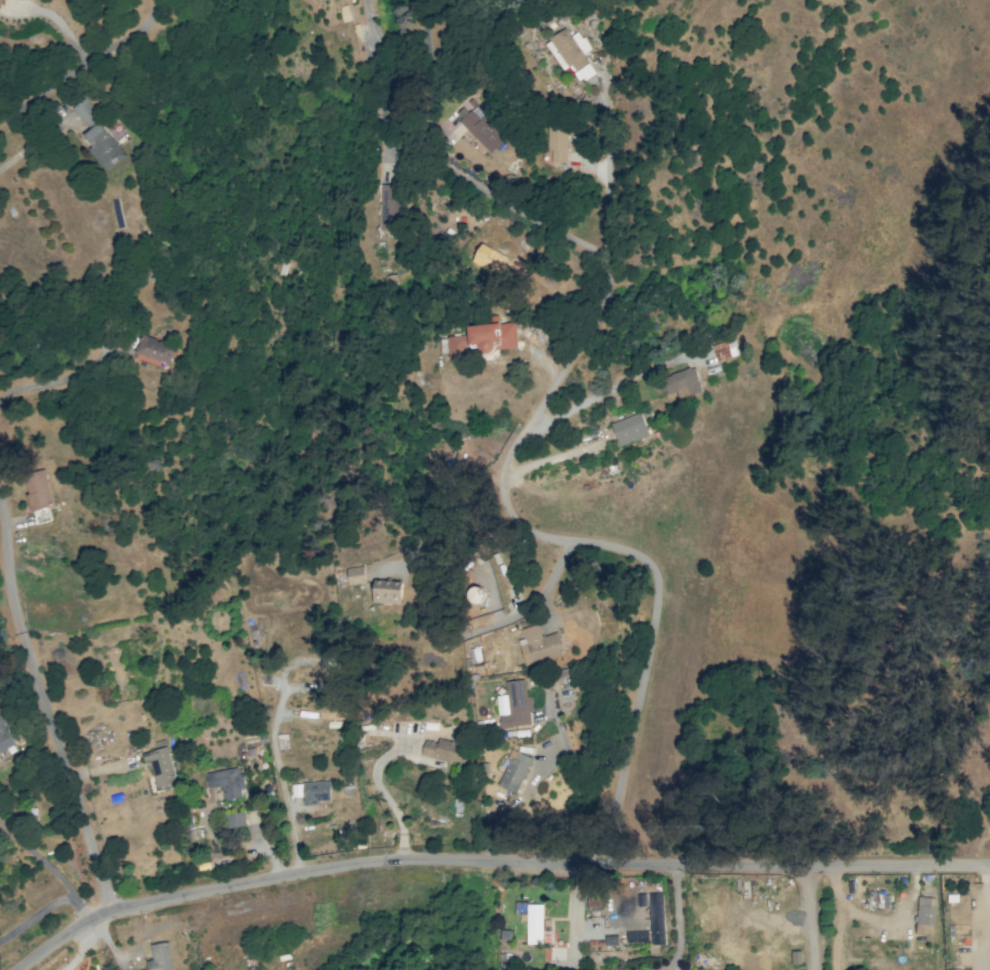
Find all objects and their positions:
building: (571, 52)
road: (82, 62)
building: (481, 127)
building: (98, 137)
building: (558, 146)
road: (595, 252)
building: (481, 254)
building: (483, 338)
building: (155, 349)
building: (726, 349)
building: (683, 382)
building: (629, 428)
building: (38, 492)
road: (559, 543)
building: (355, 575)
building: (387, 591)
building: (539, 644)
building: (514, 705)
road: (53, 731)
building: (5, 733)
road: (833, 739)
building: (448, 752)
building: (161, 766)
building: (515, 771)
building: (226, 782)
building: (311, 791)
building: (236, 819)
road: (39, 860)
road: (494, 865)
building: (883, 900)
road: (47, 907)
building: (521, 910)
building: (925, 914)
building: (654, 915)
road: (808, 918)
building: (535, 923)
road: (678, 927)
building: (160, 957)
building: (796, 957)

